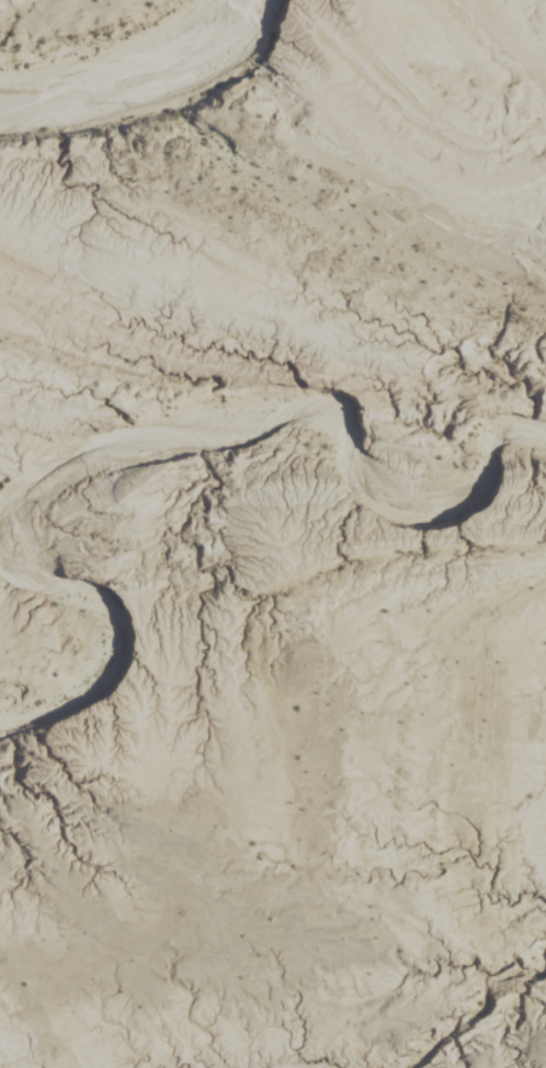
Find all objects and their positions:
road: (120, 73)

